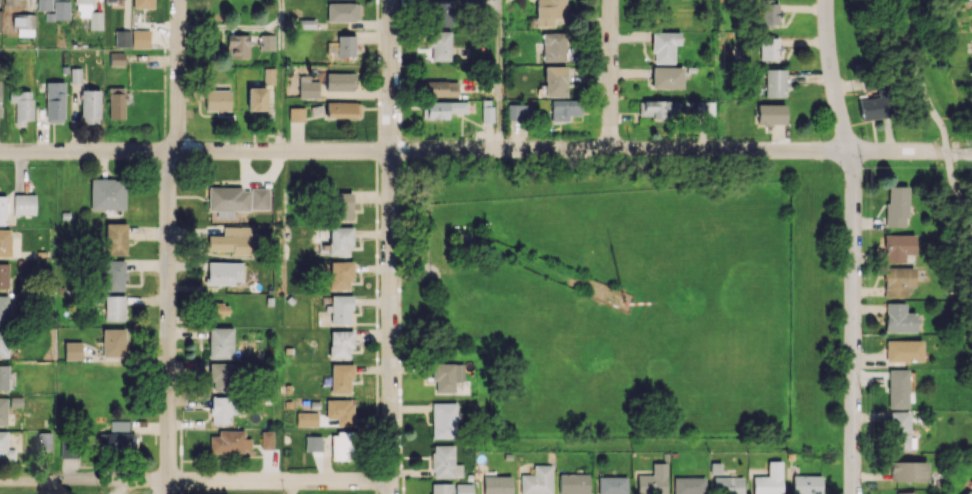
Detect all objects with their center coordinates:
building: (113, 0)
building: (11, 2)
building: (142, 4)
building: (44, 5)
building: (59, 11)
building: (549, 11)
building: (342, 12)
building: (769, 12)
building: (88, 13)
building: (442, 13)
building: (0, 18)
building: (23, 24)
building: (122, 38)
building: (140, 38)
building: (267, 42)
building: (346, 45)
building: (439, 45)
building: (237, 46)
building: (553, 46)
building: (664, 46)
building: (769, 47)
building: (116, 59)
road: (498, 74)
road: (279, 75)
road: (610, 75)
building: (268, 76)
road: (832, 76)
road: (918, 76)
building: (666, 77)
building: (339, 81)
building: (555, 81)
building: (775, 82)
building: (307, 87)
building: (440, 88)
building: (256, 99)
building: (54, 100)
building: (217, 100)
building: (116, 103)
building: (89, 104)
building: (874, 106)
building: (22, 107)
building: (442, 108)
building: (702, 108)
building: (342, 109)
building: (564, 109)
building: (657, 109)
building: (486, 111)
building: (518, 112)
building: (296, 114)
building: (770, 114)
road: (473, 149)
road: (959, 153)
building: (107, 194)
road: (957, 194)
building: (259, 198)
building: (228, 200)
building: (24, 204)
building: (340, 205)
building: (896, 206)
building: (2, 210)
building: (115, 238)
building: (230, 240)
building: (339, 240)
building: (5, 242)
building: (467, 243)
road: (168, 246)
road: (390, 247)
building: (898, 247)
building: (224, 272)
building: (340, 274)
building: (3, 275)
building: (113, 275)
building: (897, 281)
building: (114, 308)
building: (3, 309)
building: (218, 309)
building: (339, 309)
building: (899, 318)
road: (852, 322)
building: (113, 342)
building: (220, 342)
building: (4, 343)
building: (340, 343)
building: (72, 350)
building: (903, 350)
building: (221, 375)
building: (446, 376)
building: (4, 377)
building: (341, 378)
building: (897, 388)
building: (222, 409)
building: (3, 411)
building: (340, 411)
building: (306, 419)
building: (444, 419)
building: (898, 430)
building: (117, 437)
building: (266, 439)
building: (229, 442)
building: (313, 443)
building: (341, 446)
building: (5, 448)
building: (68, 449)
building: (444, 462)
building: (908, 470)
road: (195, 480)
building: (652, 480)
building: (769, 480)
building: (537, 481)
building: (573, 483)
building: (496, 484)
building: (806, 484)
building: (612, 485)
building: (688, 485)
building: (727, 485)
building: (440, 488)
building: (463, 488)
building: (905, 492)
building: (965, 492)

